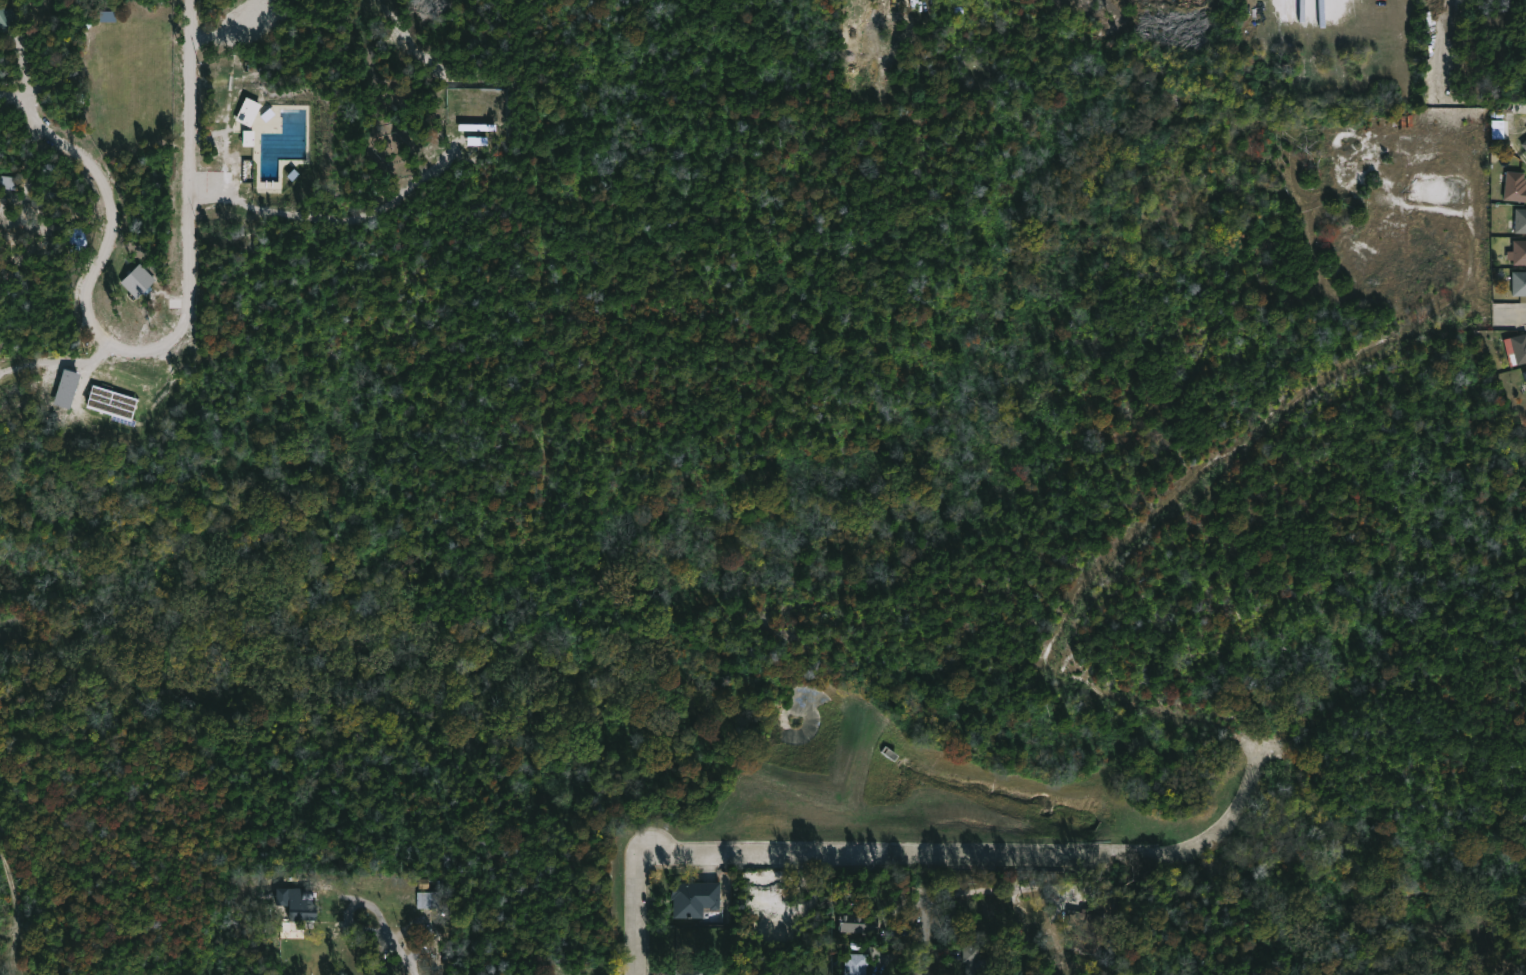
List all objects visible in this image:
building: (6, 18)
road: (865, 38)
building: (248, 112)
building: (1497, 135)
building: (1525, 143)
building: (1516, 186)
building: (1521, 220)
building: (1520, 251)
building: (138, 282)
building: (1520, 283)
road: (162, 346)
building: (1520, 347)
road: (63, 363)
road: (4, 364)
road: (4, 367)
building: (1525, 372)
building: (66, 386)
building: (111, 395)
road: (1262, 745)
road: (927, 855)
road: (999, 890)
building: (696, 897)
building: (430, 898)
building: (303, 910)
building: (859, 921)
building: (1085, 926)
road: (929, 940)
road: (394, 944)
building: (976, 961)
building: (857, 963)
building: (690, 971)

